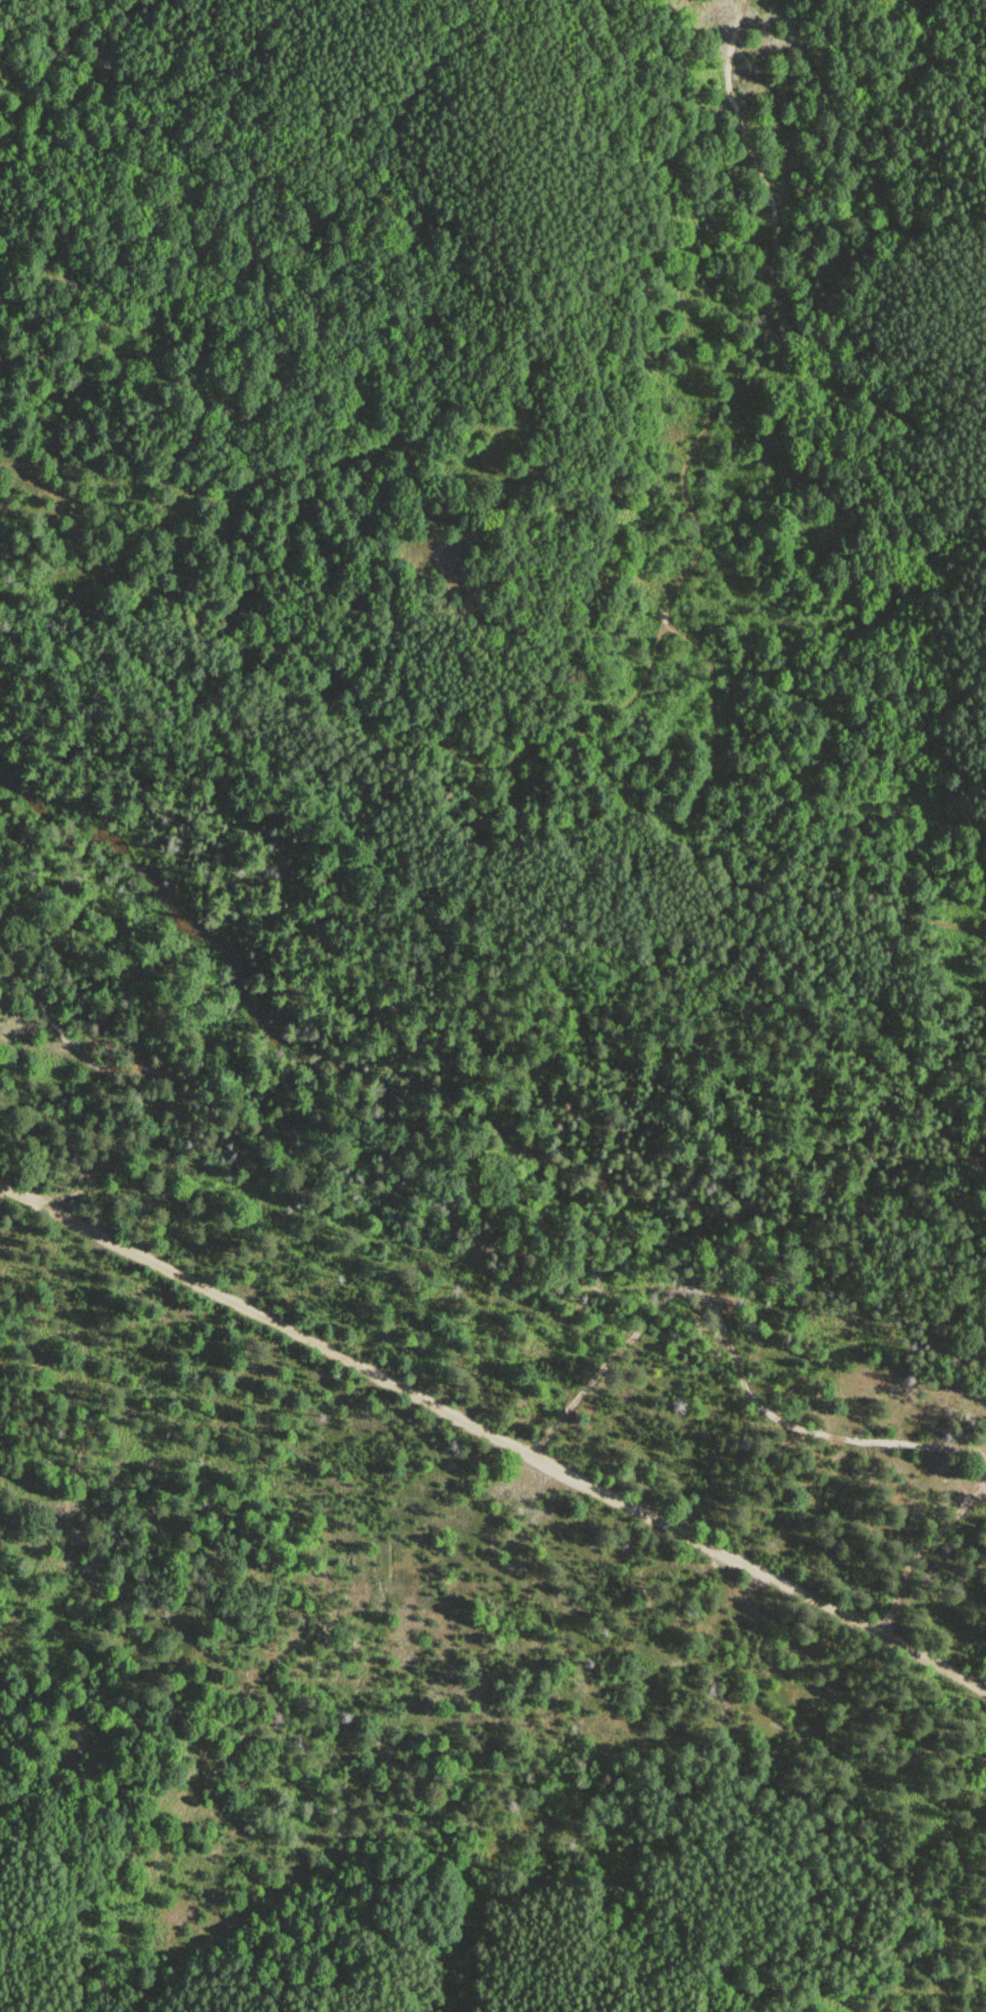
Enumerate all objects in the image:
road: (695, 551)
road: (324, 713)
road: (30, 993)
road: (133, 1057)
road: (728, 1344)
road: (491, 1433)
road: (80, 1437)
road: (981, 1454)
road: (924, 1549)

